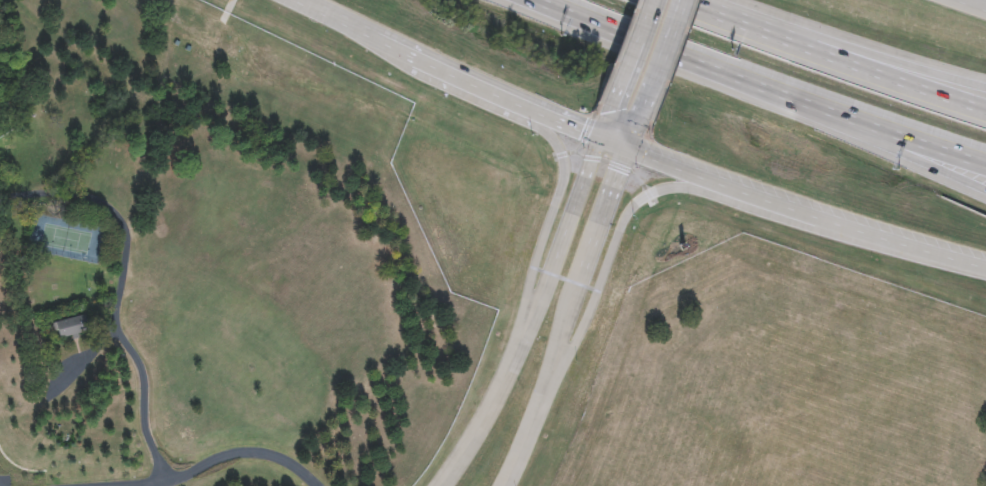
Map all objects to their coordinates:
road: (971, 5)
road: (633, 55)
road: (661, 60)
road: (822, 61)
road: (693, 71)
road: (908, 78)
traffic signals: (612, 110)
traffic signals: (583, 131)
road: (634, 134)
road: (634, 150)
road: (930, 157)
road: (930, 166)
traffic signals: (621, 174)
road: (552, 213)
road: (114, 218)
road: (616, 234)
park: (66, 239)
road: (539, 303)
road: (575, 318)
building: (71, 328)
road: (82, 364)
road: (145, 406)
road: (219, 457)

